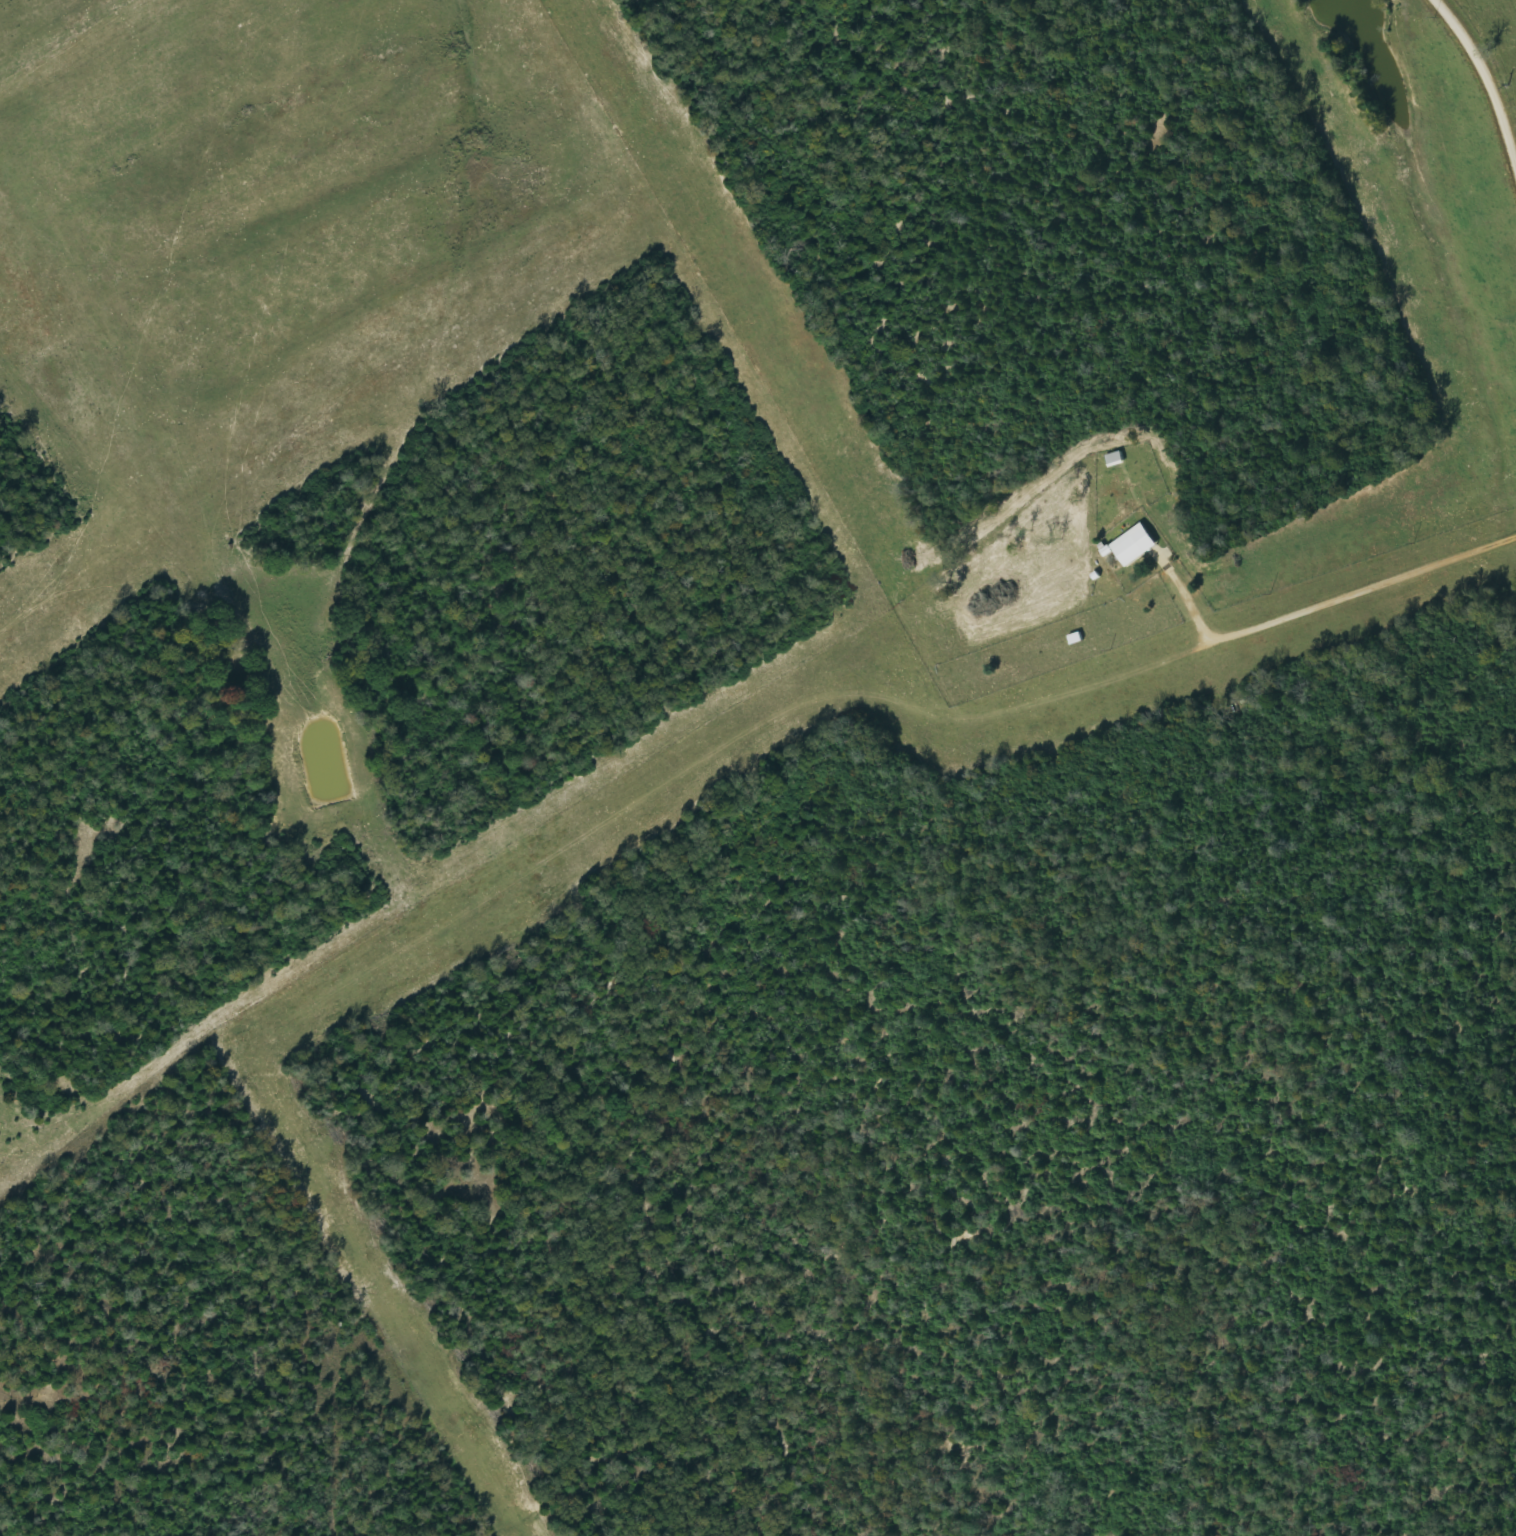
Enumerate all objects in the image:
road: (1486, 80)
building: (1115, 459)
building: (1134, 545)

